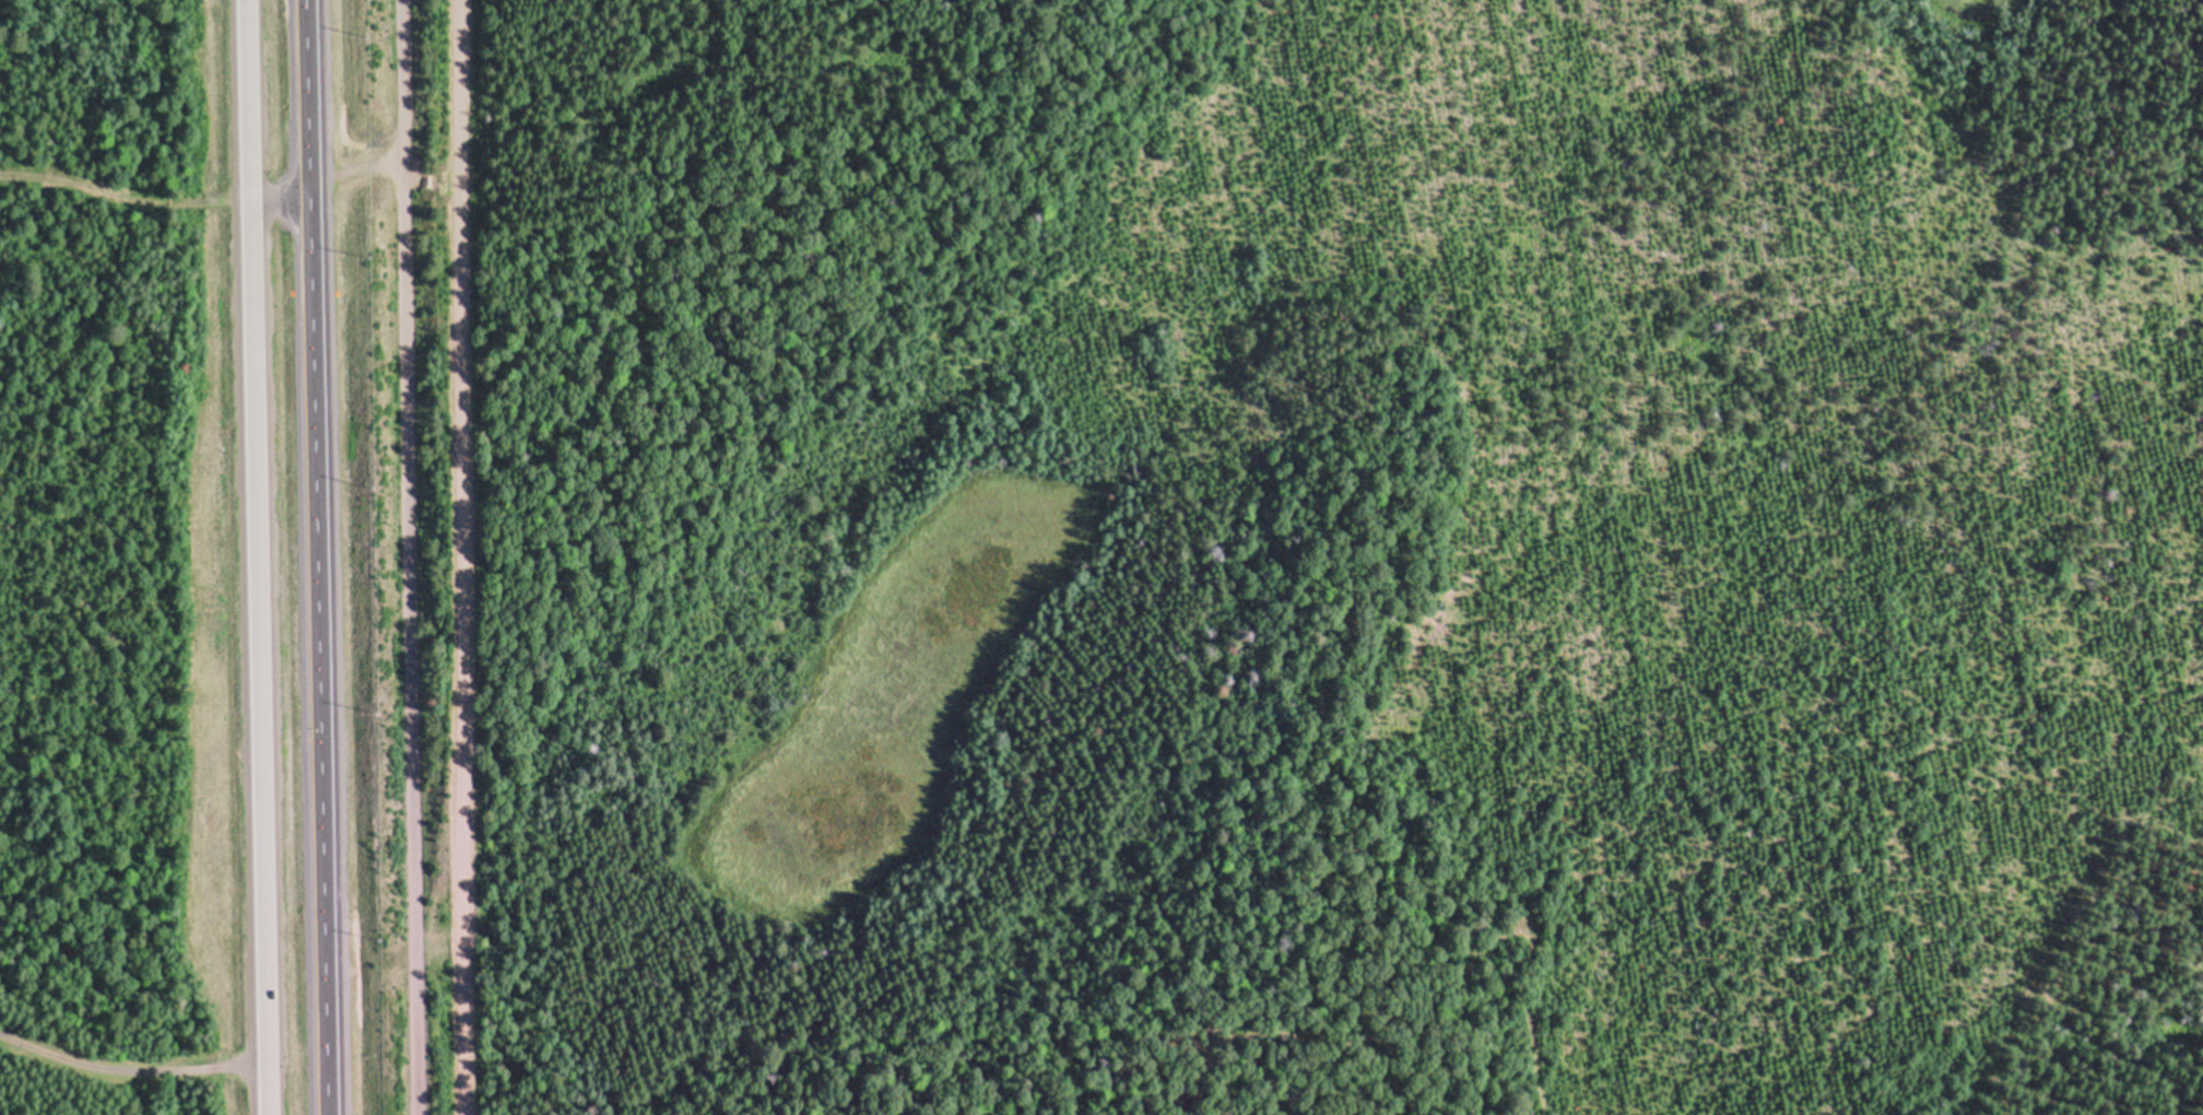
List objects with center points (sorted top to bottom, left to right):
road: (123, 201)
road: (256, 556)
road: (464, 556)
road: (315, 557)
road: (403, 557)
road: (129, 1077)

